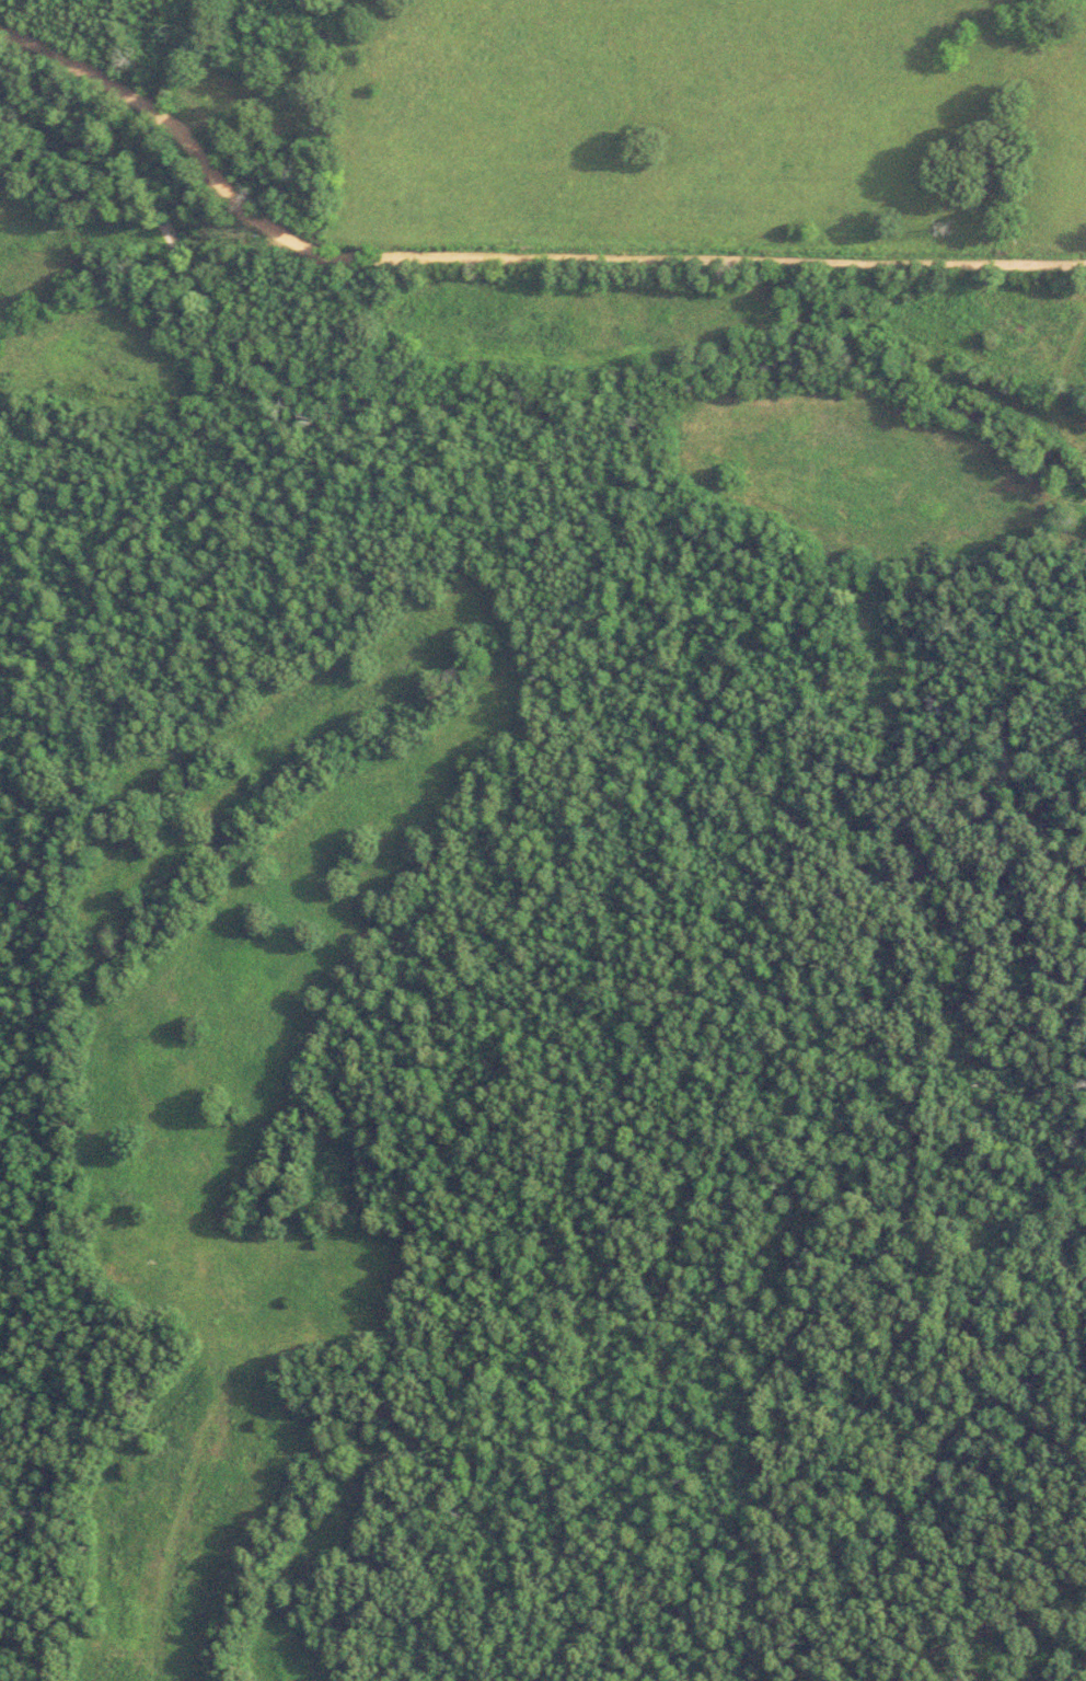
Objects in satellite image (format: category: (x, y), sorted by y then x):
road: (505, 260)

